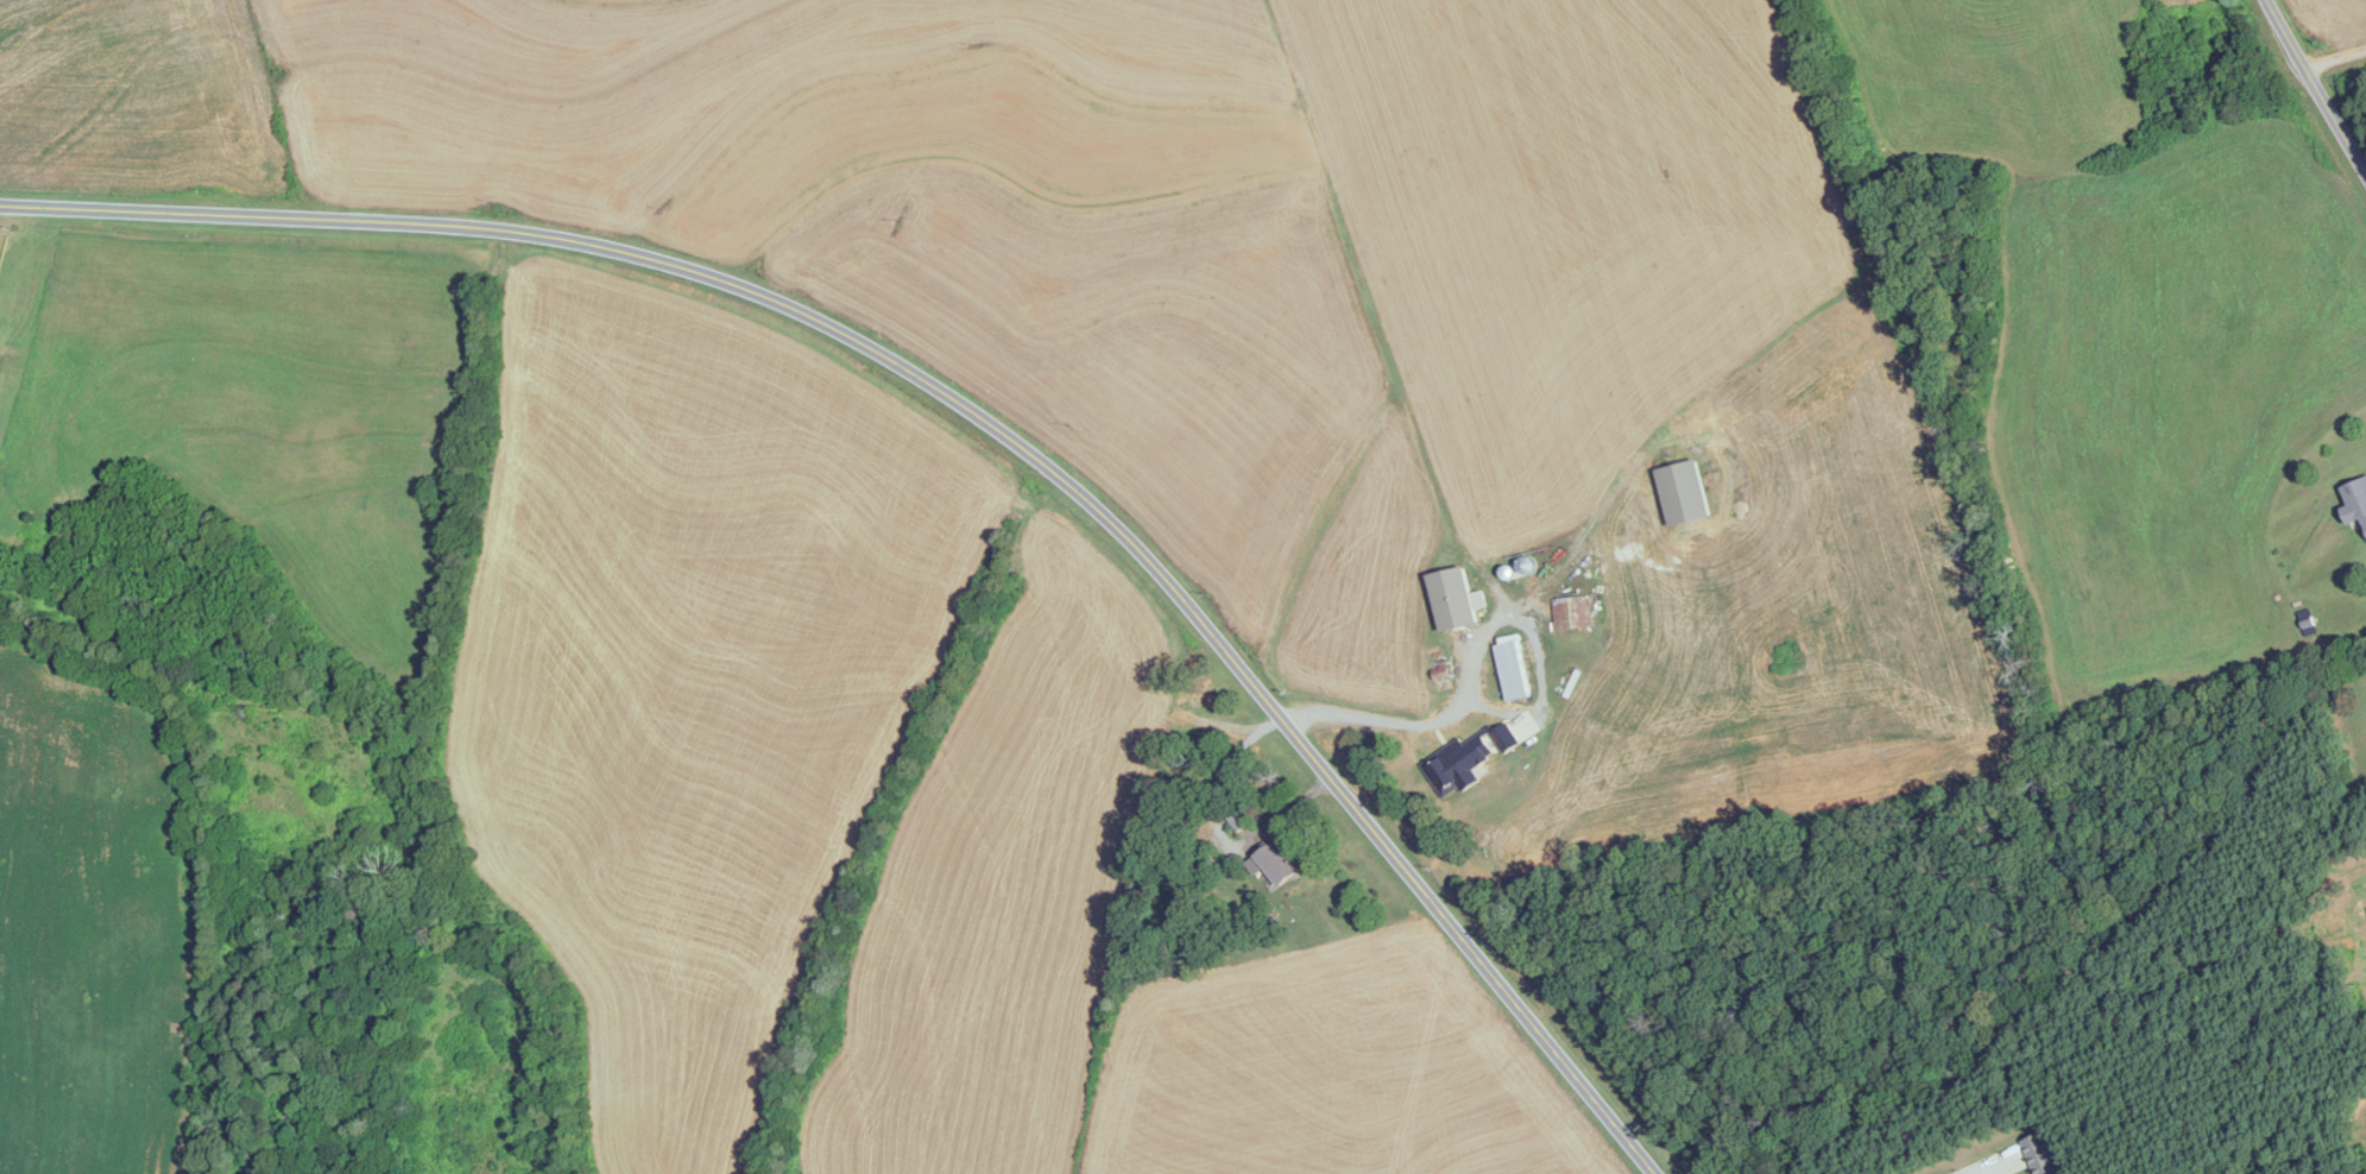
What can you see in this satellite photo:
road: (2334, 58)
road: (2315, 88)
road: (978, 415)
building: (1682, 493)
building: (2354, 503)
building: (0, 576)
building: (1450, 599)
building: (1571, 613)
road: (1481, 650)
building: (1512, 670)
building: (1446, 770)
building: (1238, 819)
building: (1275, 863)
building: (2040, 1155)
road: (1975, 1169)

